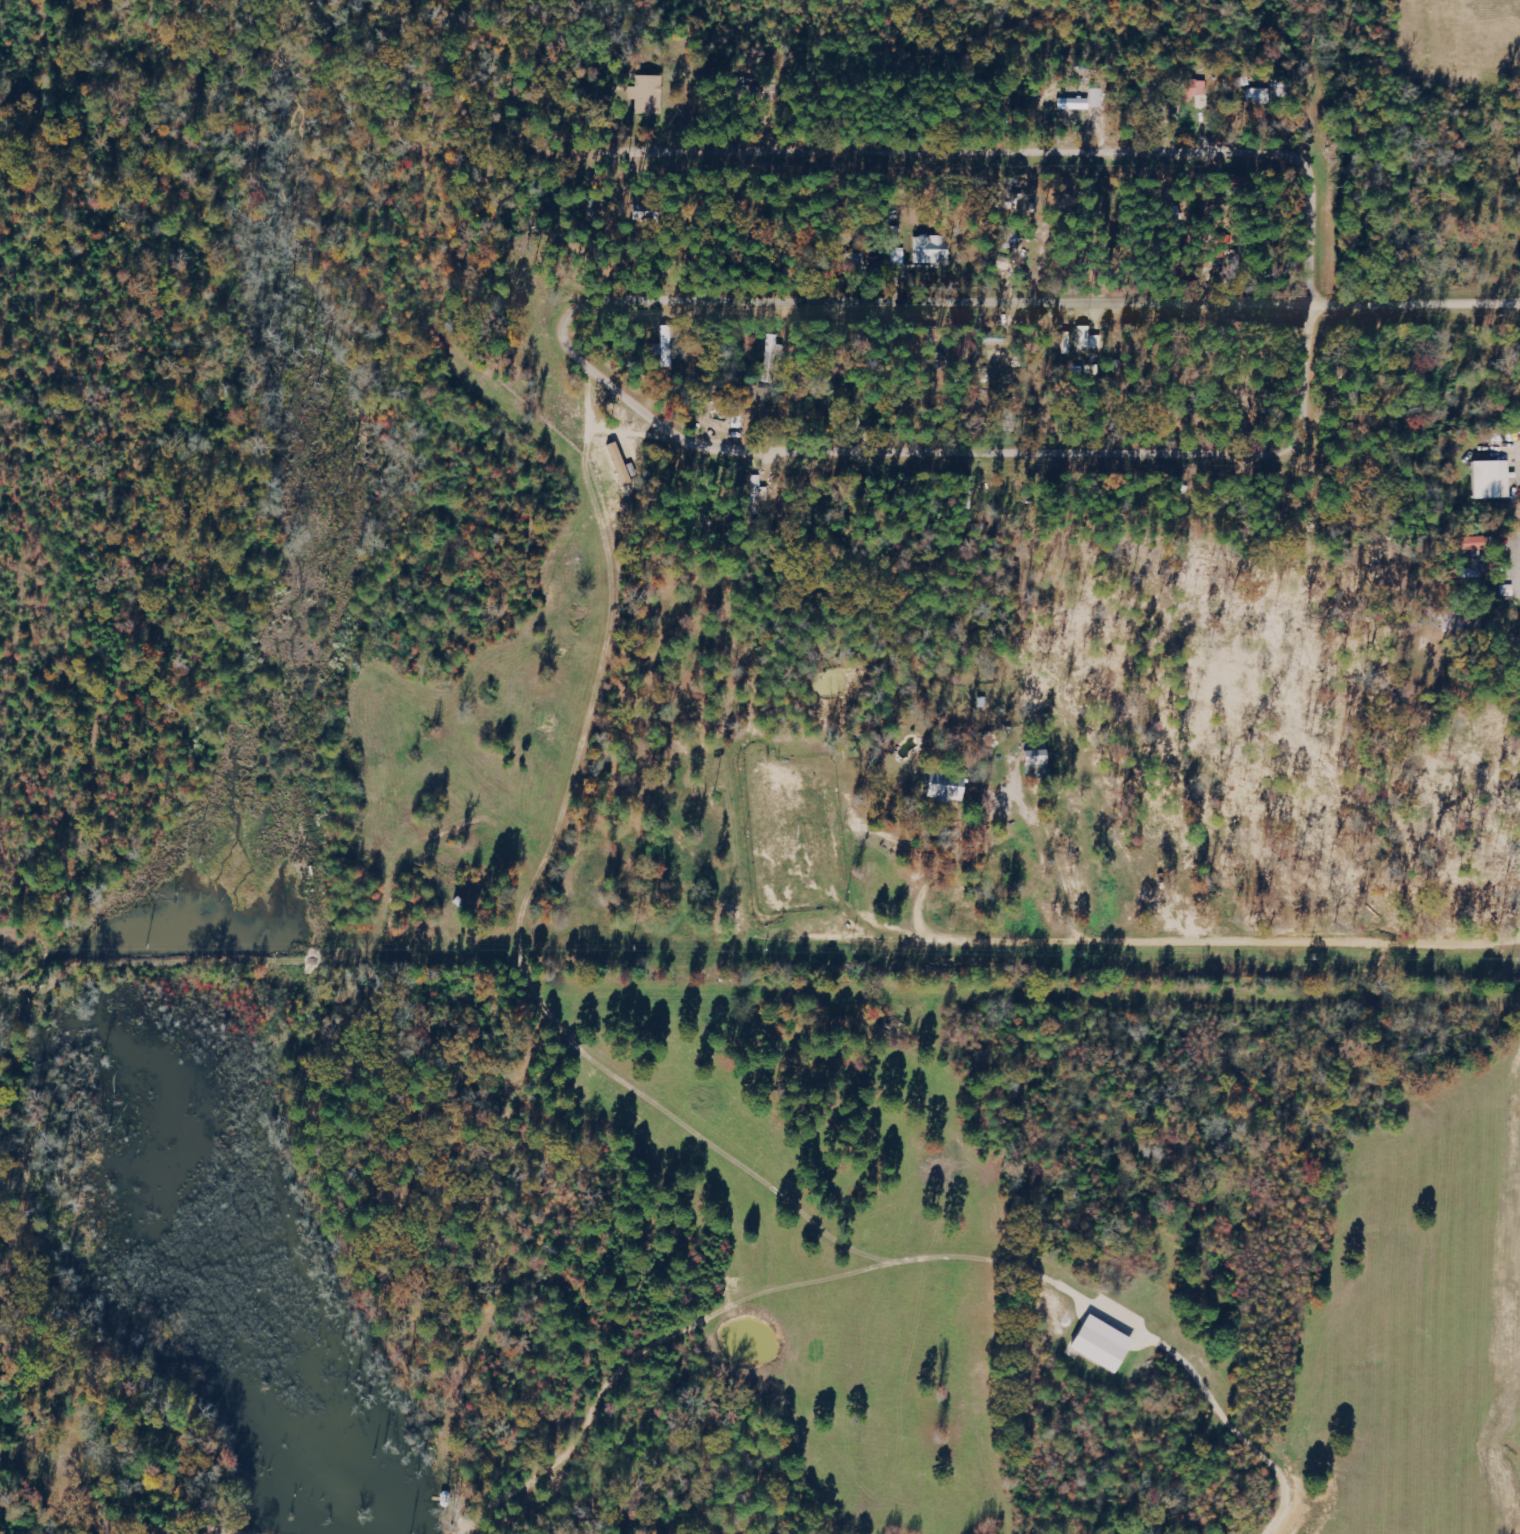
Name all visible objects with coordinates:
road: (1103, 0)
building: (1196, 90)
building: (650, 94)
building: (1262, 96)
road: (1316, 159)
road: (931, 160)
building: (652, 210)
building: (934, 250)
road: (1416, 315)
building: (1092, 339)
building: (671, 343)
building: (777, 350)
road: (625, 401)
building: (1496, 480)
building: (1042, 759)
building: (953, 789)
building: (1108, 1345)
road: (1224, 1431)

